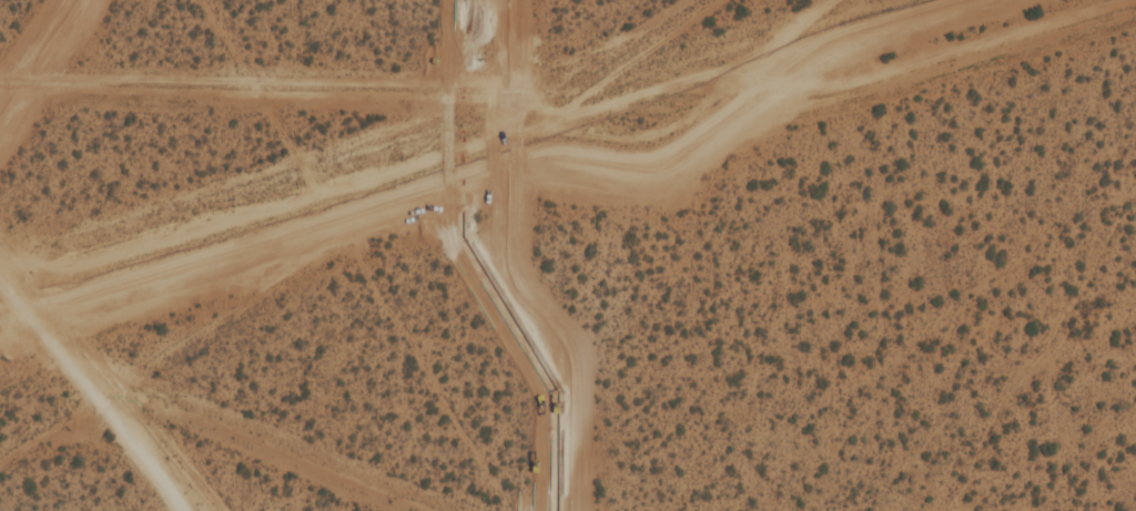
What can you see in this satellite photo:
road: (97, 391)

